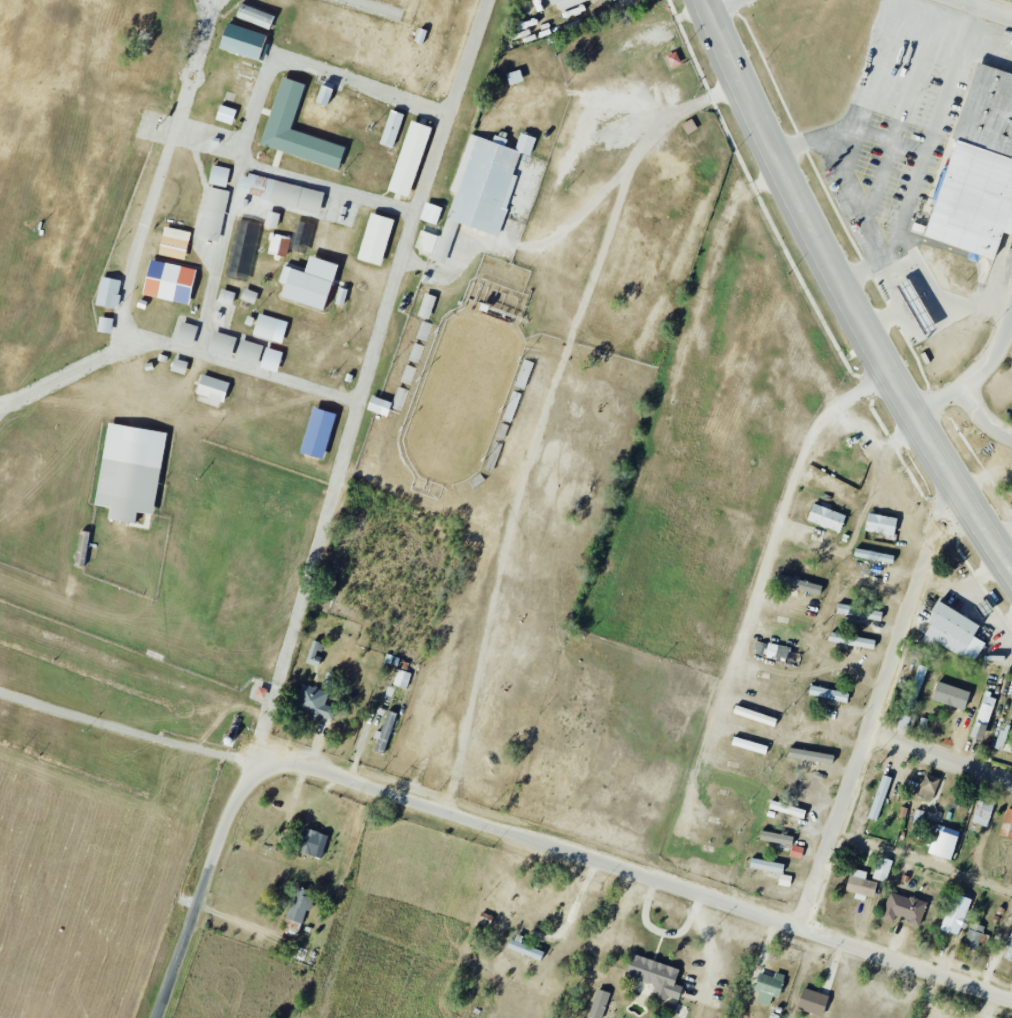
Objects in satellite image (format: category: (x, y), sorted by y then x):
building: (564, 3)
road: (728, 8)
road: (985, 9)
road: (385, 11)
building: (254, 16)
road: (929, 17)
building: (420, 36)
building: (243, 42)
building: (514, 77)
road: (866, 78)
building: (323, 95)
building: (283, 106)
building: (225, 114)
road: (254, 114)
building: (391, 128)
road: (936, 129)
road: (208, 140)
building: (408, 158)
building: (977, 169)
road: (160, 173)
building: (218, 176)
building: (485, 181)
road: (325, 190)
building: (280, 192)
road: (859, 199)
building: (429, 213)
building: (271, 219)
building: (374, 239)
road: (405, 239)
building: (425, 241)
building: (173, 243)
building: (278, 245)
building: (242, 250)
building: (168, 281)
building: (308, 283)
building: (108, 292)
road: (846, 292)
building: (247, 295)
building: (225, 296)
building: (340, 296)
building: (426, 306)
building: (915, 306)
building: (104, 325)
road: (1010, 325)
building: (265, 326)
building: (186, 331)
building: (221, 344)
road: (175, 347)
building: (248, 352)
building: (270, 359)
building: (178, 366)
building: (407, 374)
road: (977, 377)
building: (211, 390)
building: (399, 398)
building: (378, 406)
road: (2, 409)
road: (542, 415)
road: (983, 419)
building: (316, 433)
building: (129, 471)
building: (1011, 493)
building: (825, 517)
building: (880, 524)
building: (812, 555)
building: (873, 556)
road: (1010, 566)
road: (767, 569)
building: (799, 585)
building: (983, 610)
building: (858, 612)
building: (786, 622)
road: (292, 627)
building: (953, 633)
building: (851, 640)
building: (314, 654)
building: (401, 679)
building: (915, 687)
building: (828, 694)
building: (314, 703)
road: (878, 705)
building: (982, 718)
building: (903, 723)
road: (126, 731)
building: (384, 731)
building: (810, 756)
road: (940, 758)
building: (928, 787)
building: (879, 798)
building: (786, 809)
building: (982, 811)
building: (1007, 824)
building: (310, 843)
building: (944, 844)
road: (924, 860)
building: (766, 866)
building: (882, 869)
road: (636, 874)
building: (784, 880)
building: (860, 885)
road: (201, 891)
building: (904, 908)
building: (296, 912)
building: (955, 914)
road: (238, 923)
building: (975, 936)
building: (523, 948)
building: (1009, 950)
building: (655, 977)
building: (768, 987)
building: (812, 1002)
building: (598, 1004)

